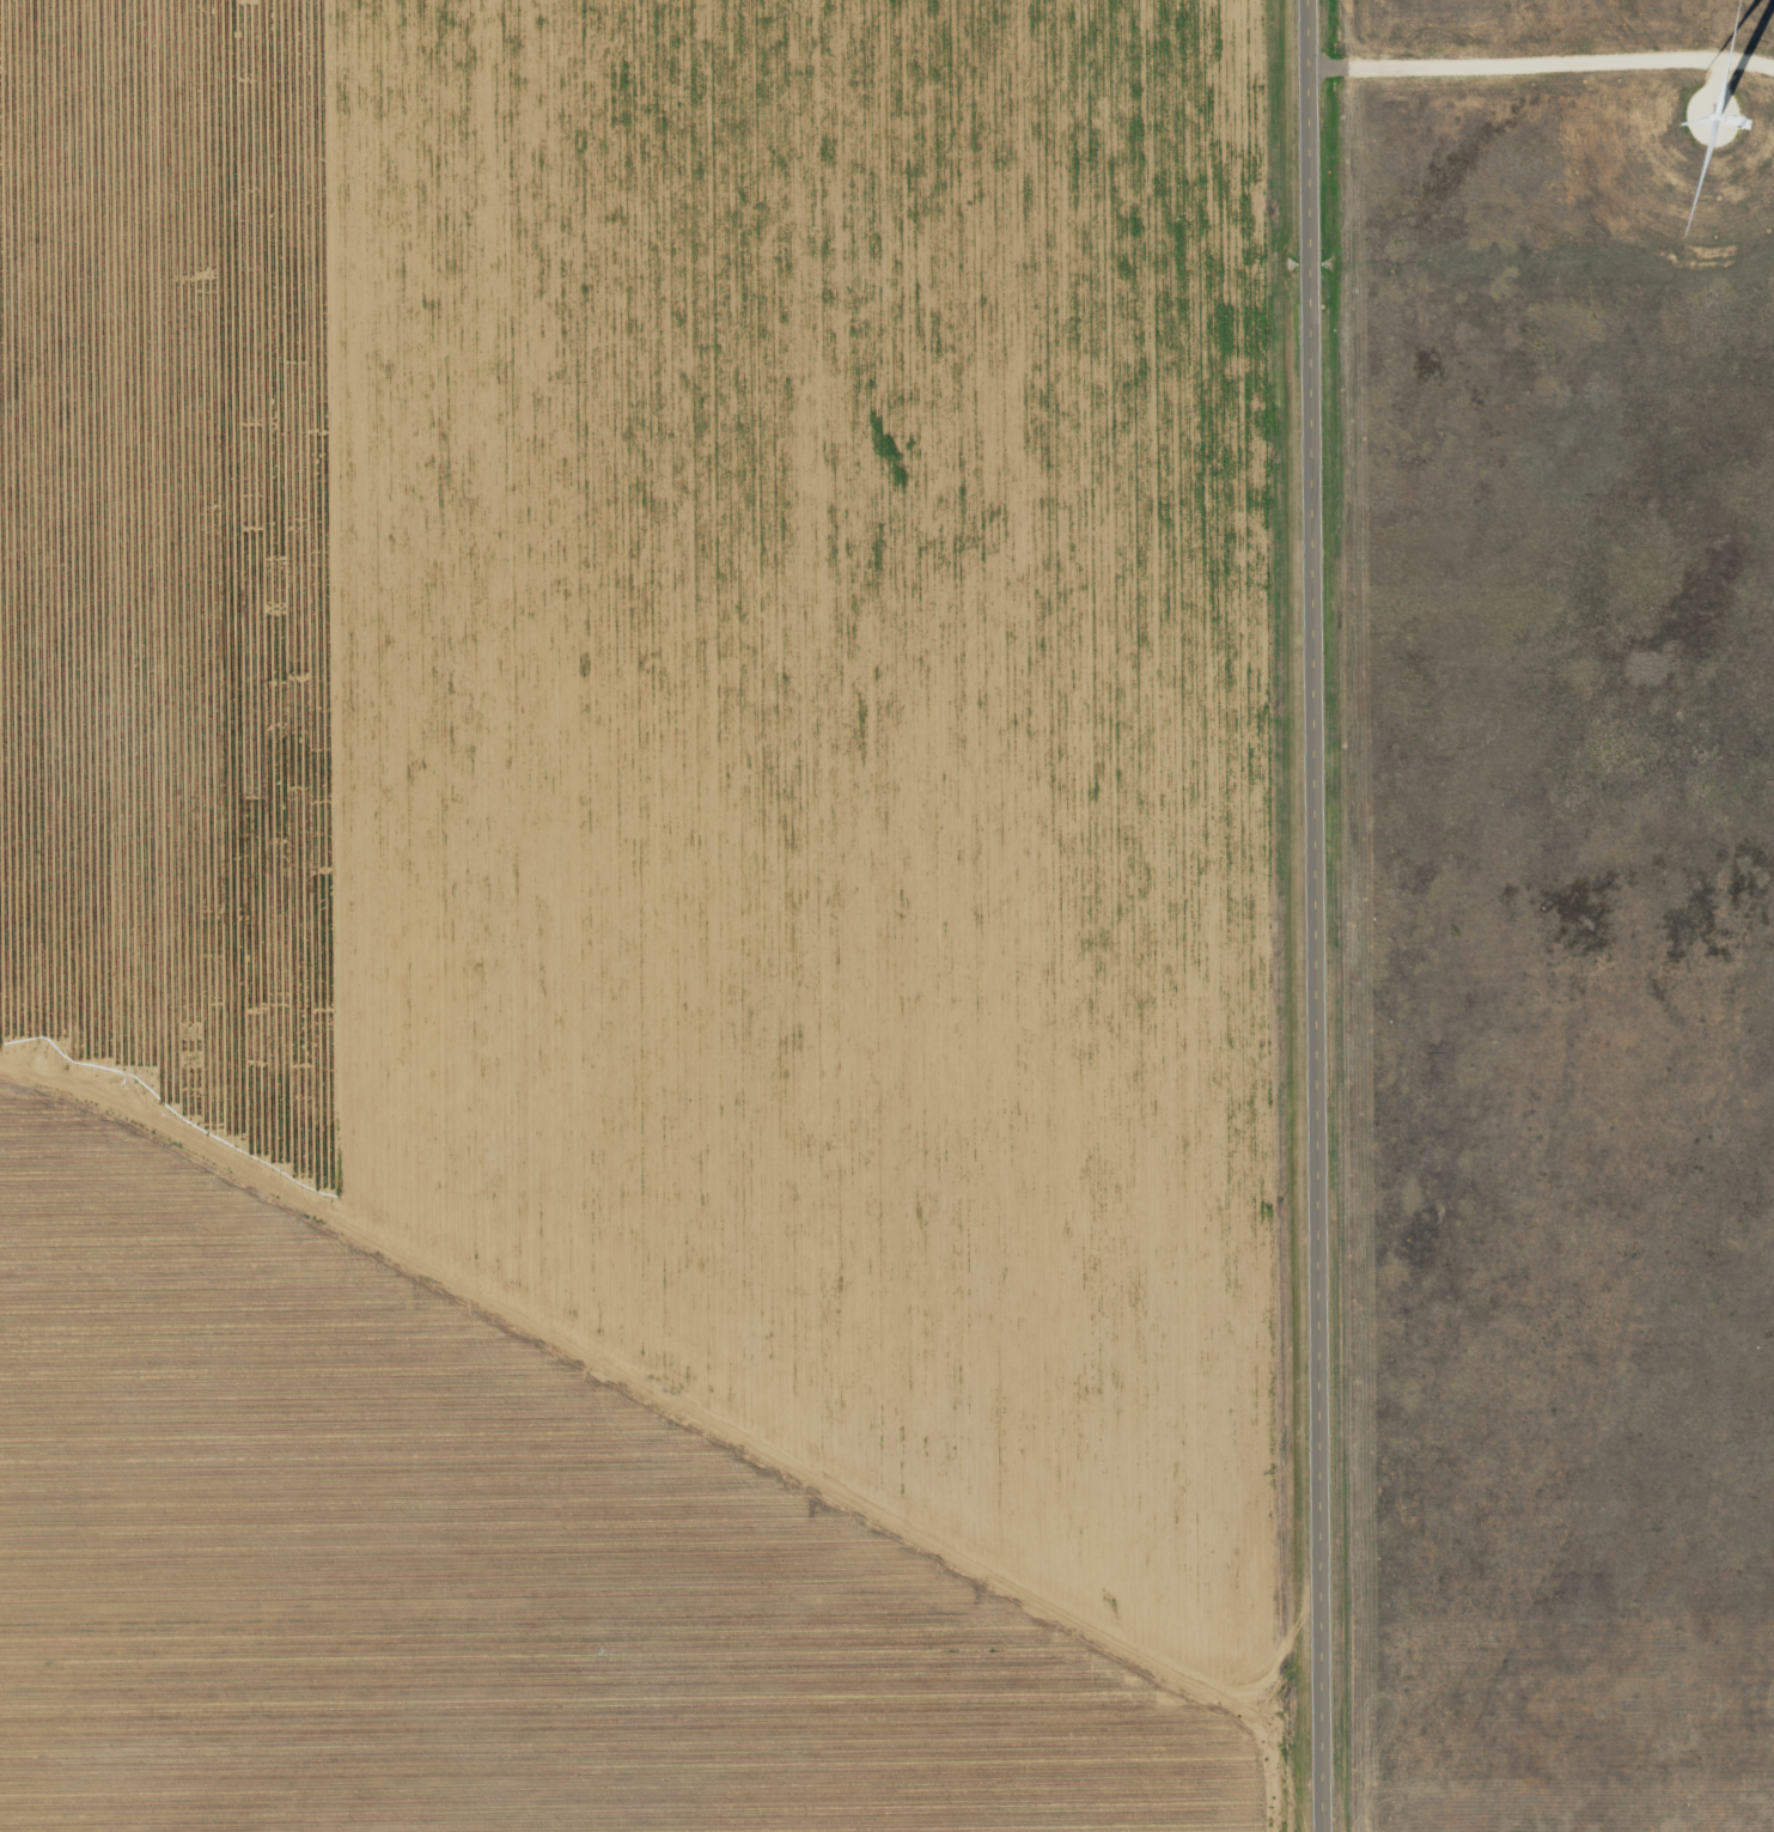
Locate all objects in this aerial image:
wind turbine: (1711, 121)
road: (1354, 915)

